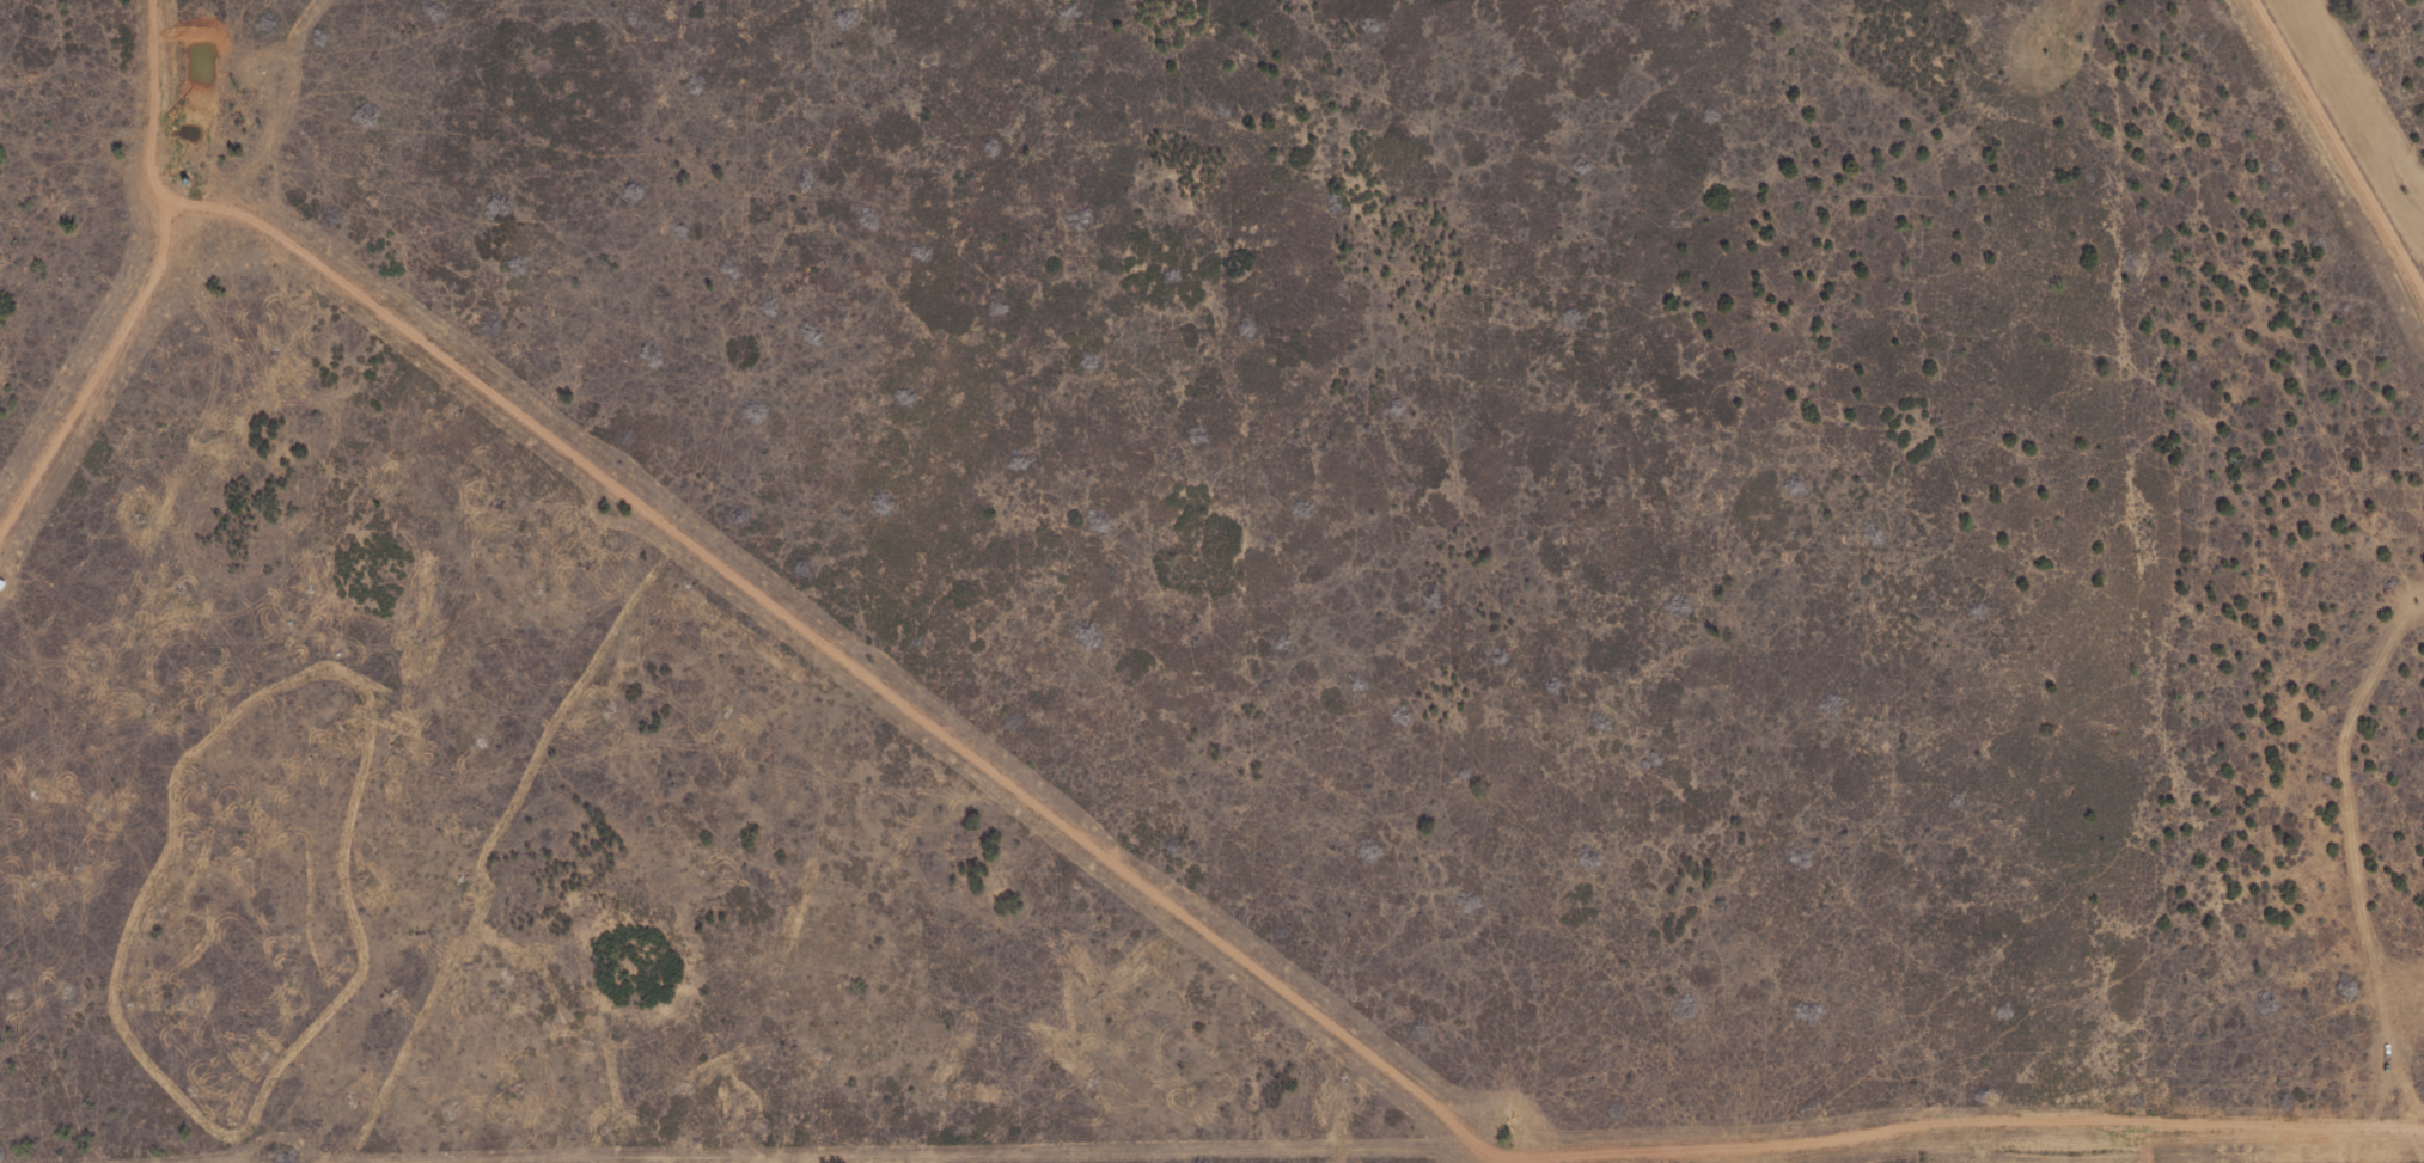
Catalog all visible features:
road: (2331, 158)

